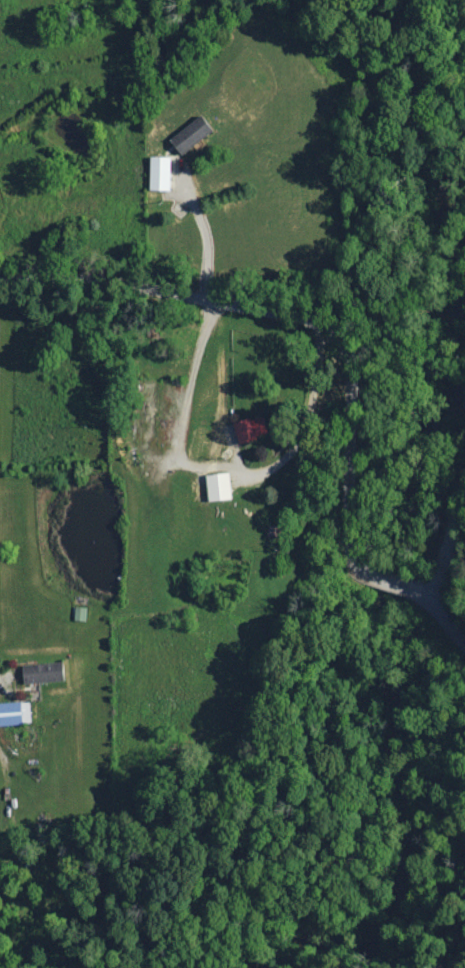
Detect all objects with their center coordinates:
building: (190, 133)
building: (158, 172)
road: (203, 234)
road: (336, 355)
building: (248, 427)
road: (219, 468)
building: (216, 485)
road: (455, 548)
building: (41, 672)
building: (14, 712)

